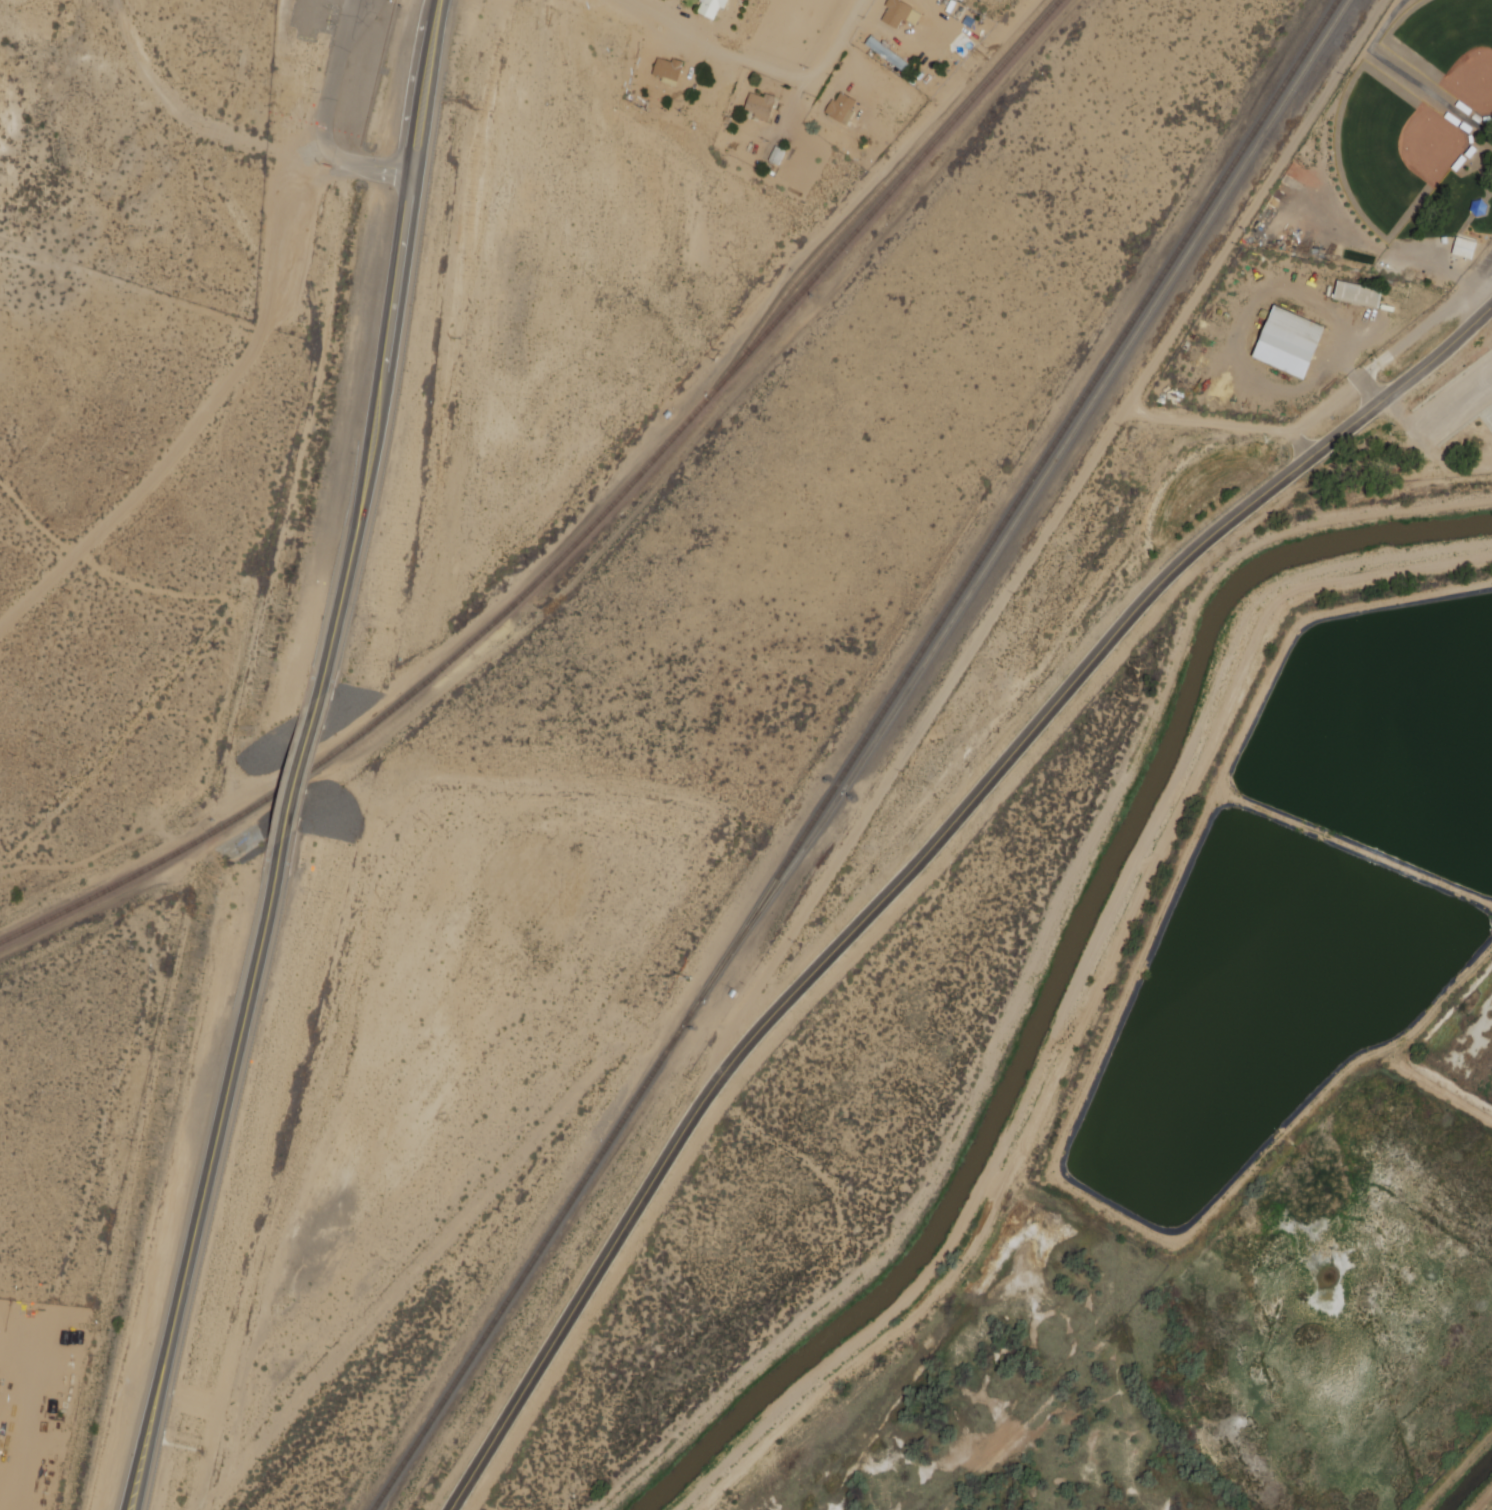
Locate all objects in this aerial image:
building: (739, 0)
building: (709, 7)
building: (896, 14)
building: (1445, 25)
park: (959, 45)
park: (1447, 45)
building: (884, 54)
road: (760, 64)
building: (665, 70)
road: (421, 89)
road: (428, 106)
building: (758, 107)
building: (839, 109)
road: (327, 117)
park: (1391, 147)
building: (774, 157)
road: (413, 180)
railway: (874, 195)
road: (410, 196)
building: (1480, 208)
building: (1465, 246)
building: (1356, 296)
building: (1286, 342)
road: (1441, 409)
park: (1488, 418)
road: (370, 448)
railway: (1028, 501)
railway: (584, 535)
road: (1044, 536)
railway: (853, 754)
road: (295, 783)
road: (916, 860)
road: (202, 1197)

